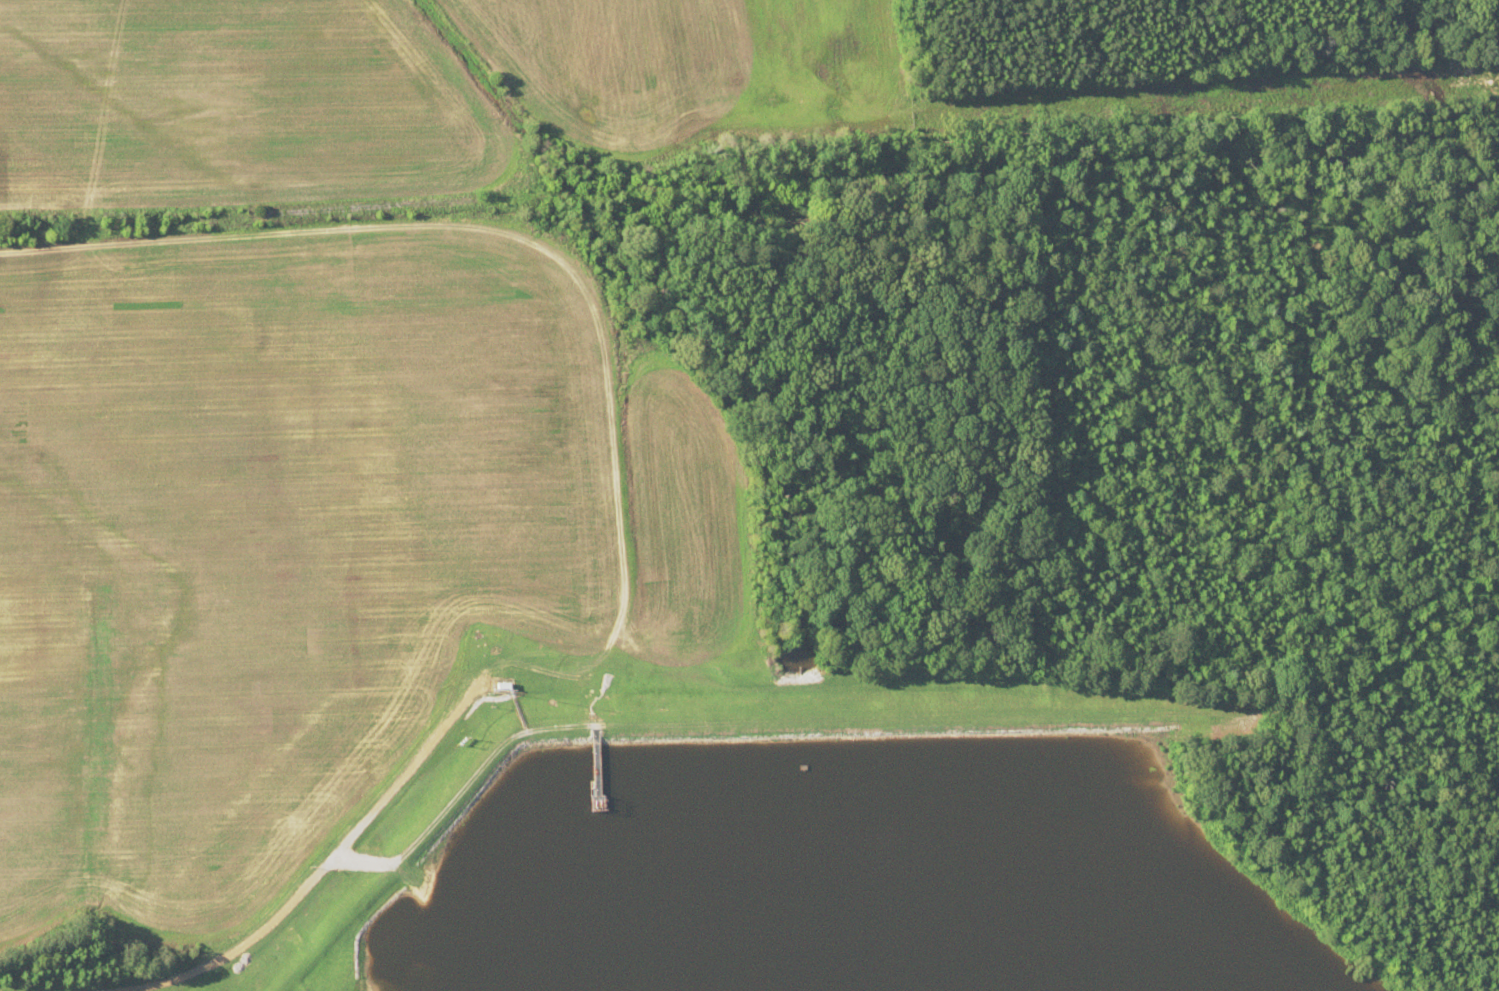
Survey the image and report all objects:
railway: (749, 178)
road: (32, 302)
building: (498, 685)

